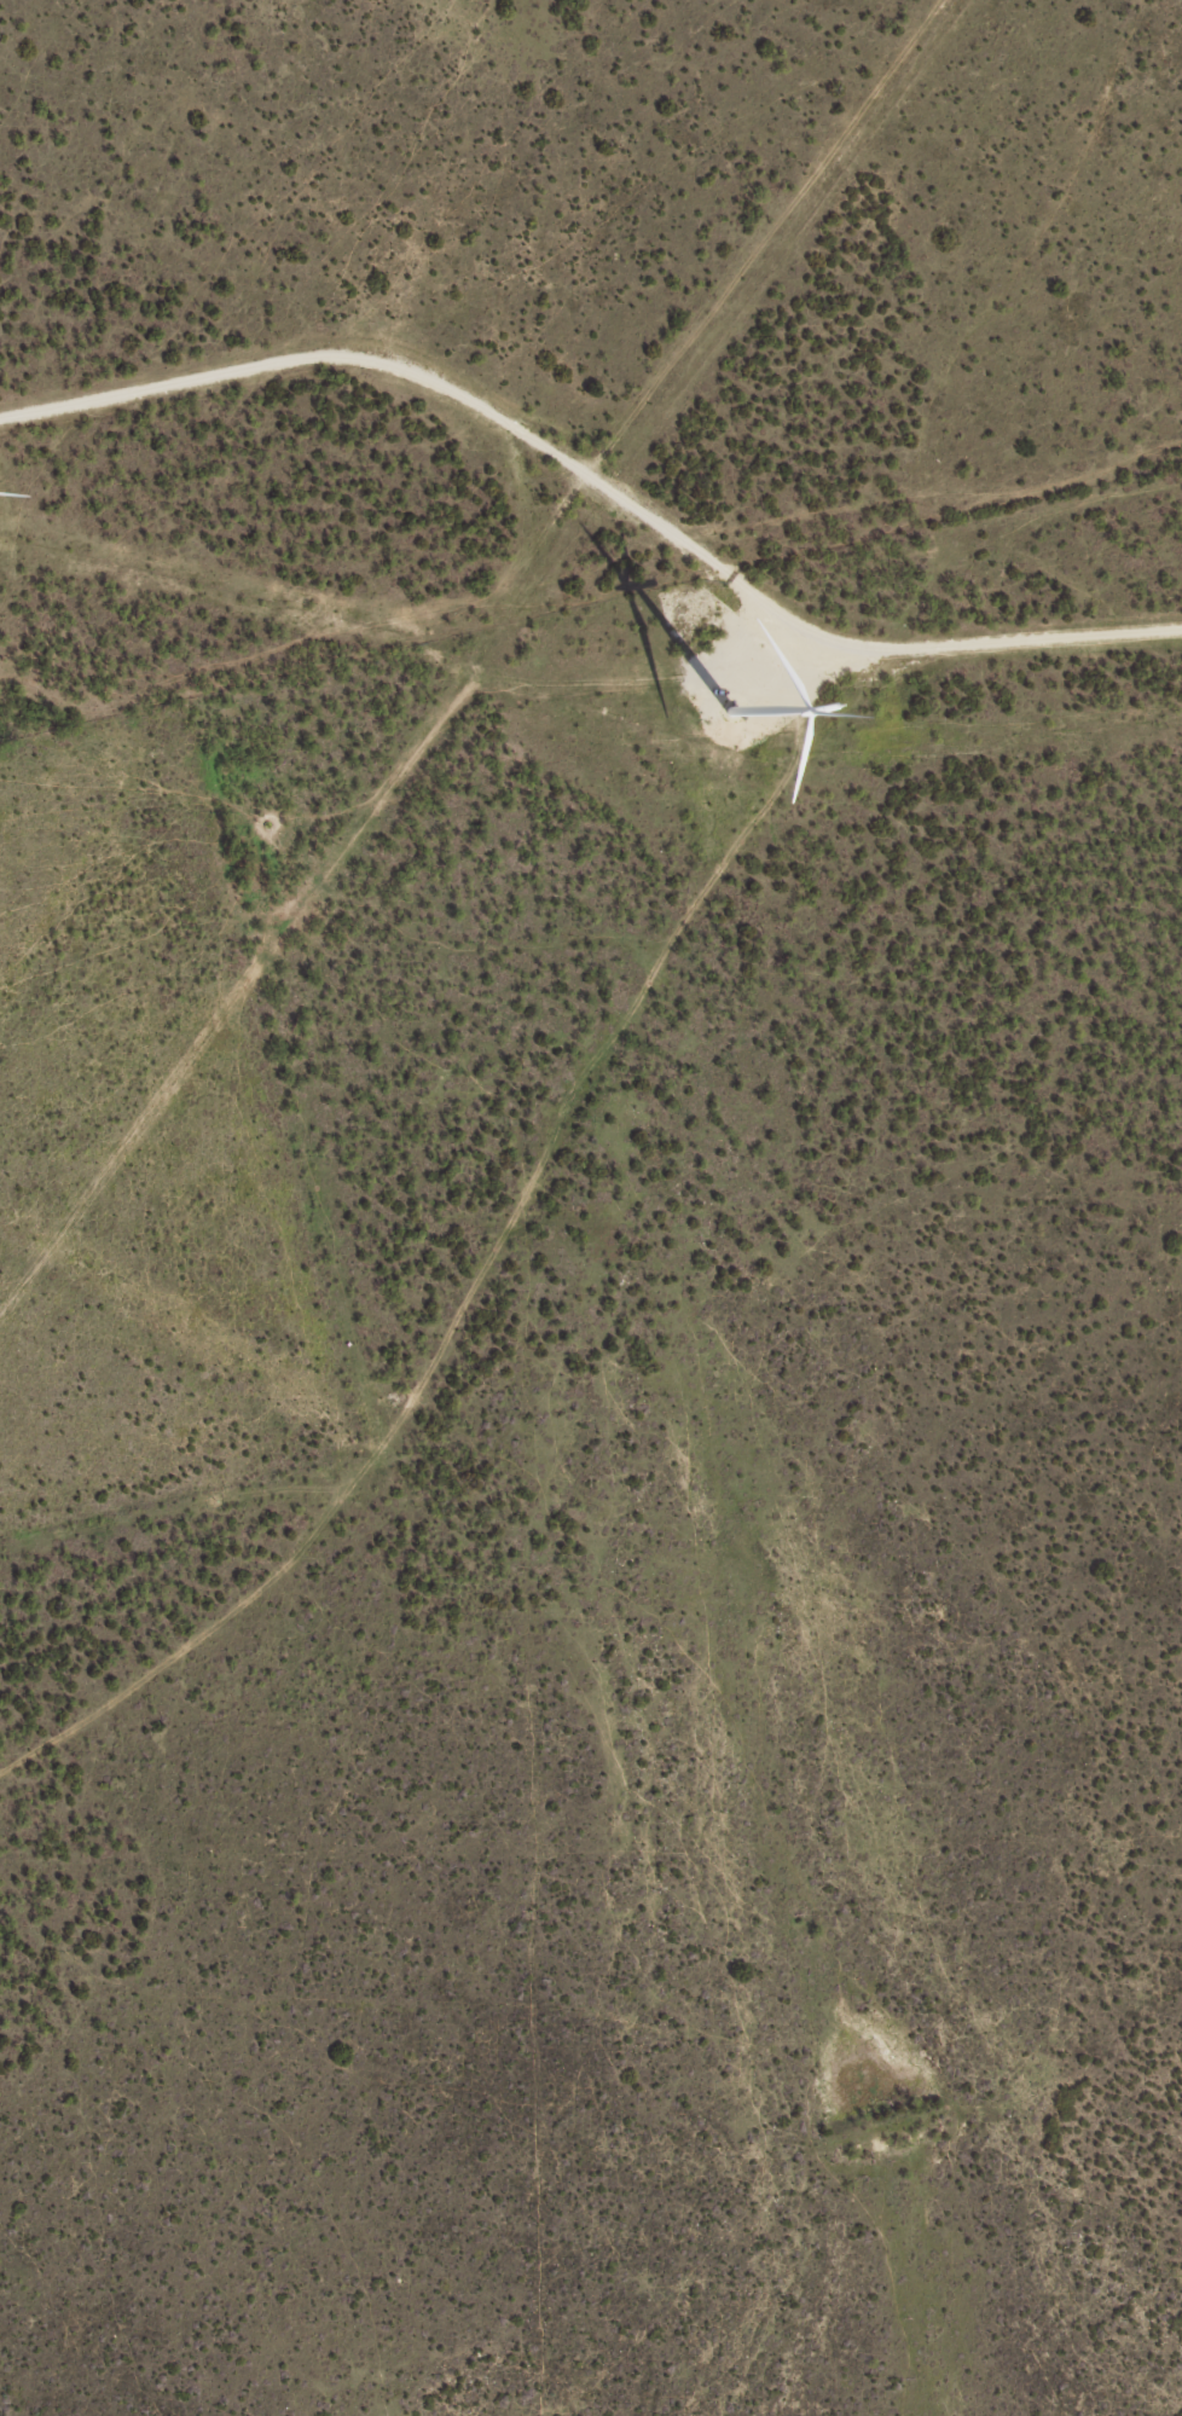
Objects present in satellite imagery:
wind turbine: (722, 697)
road: (696, 1020)

